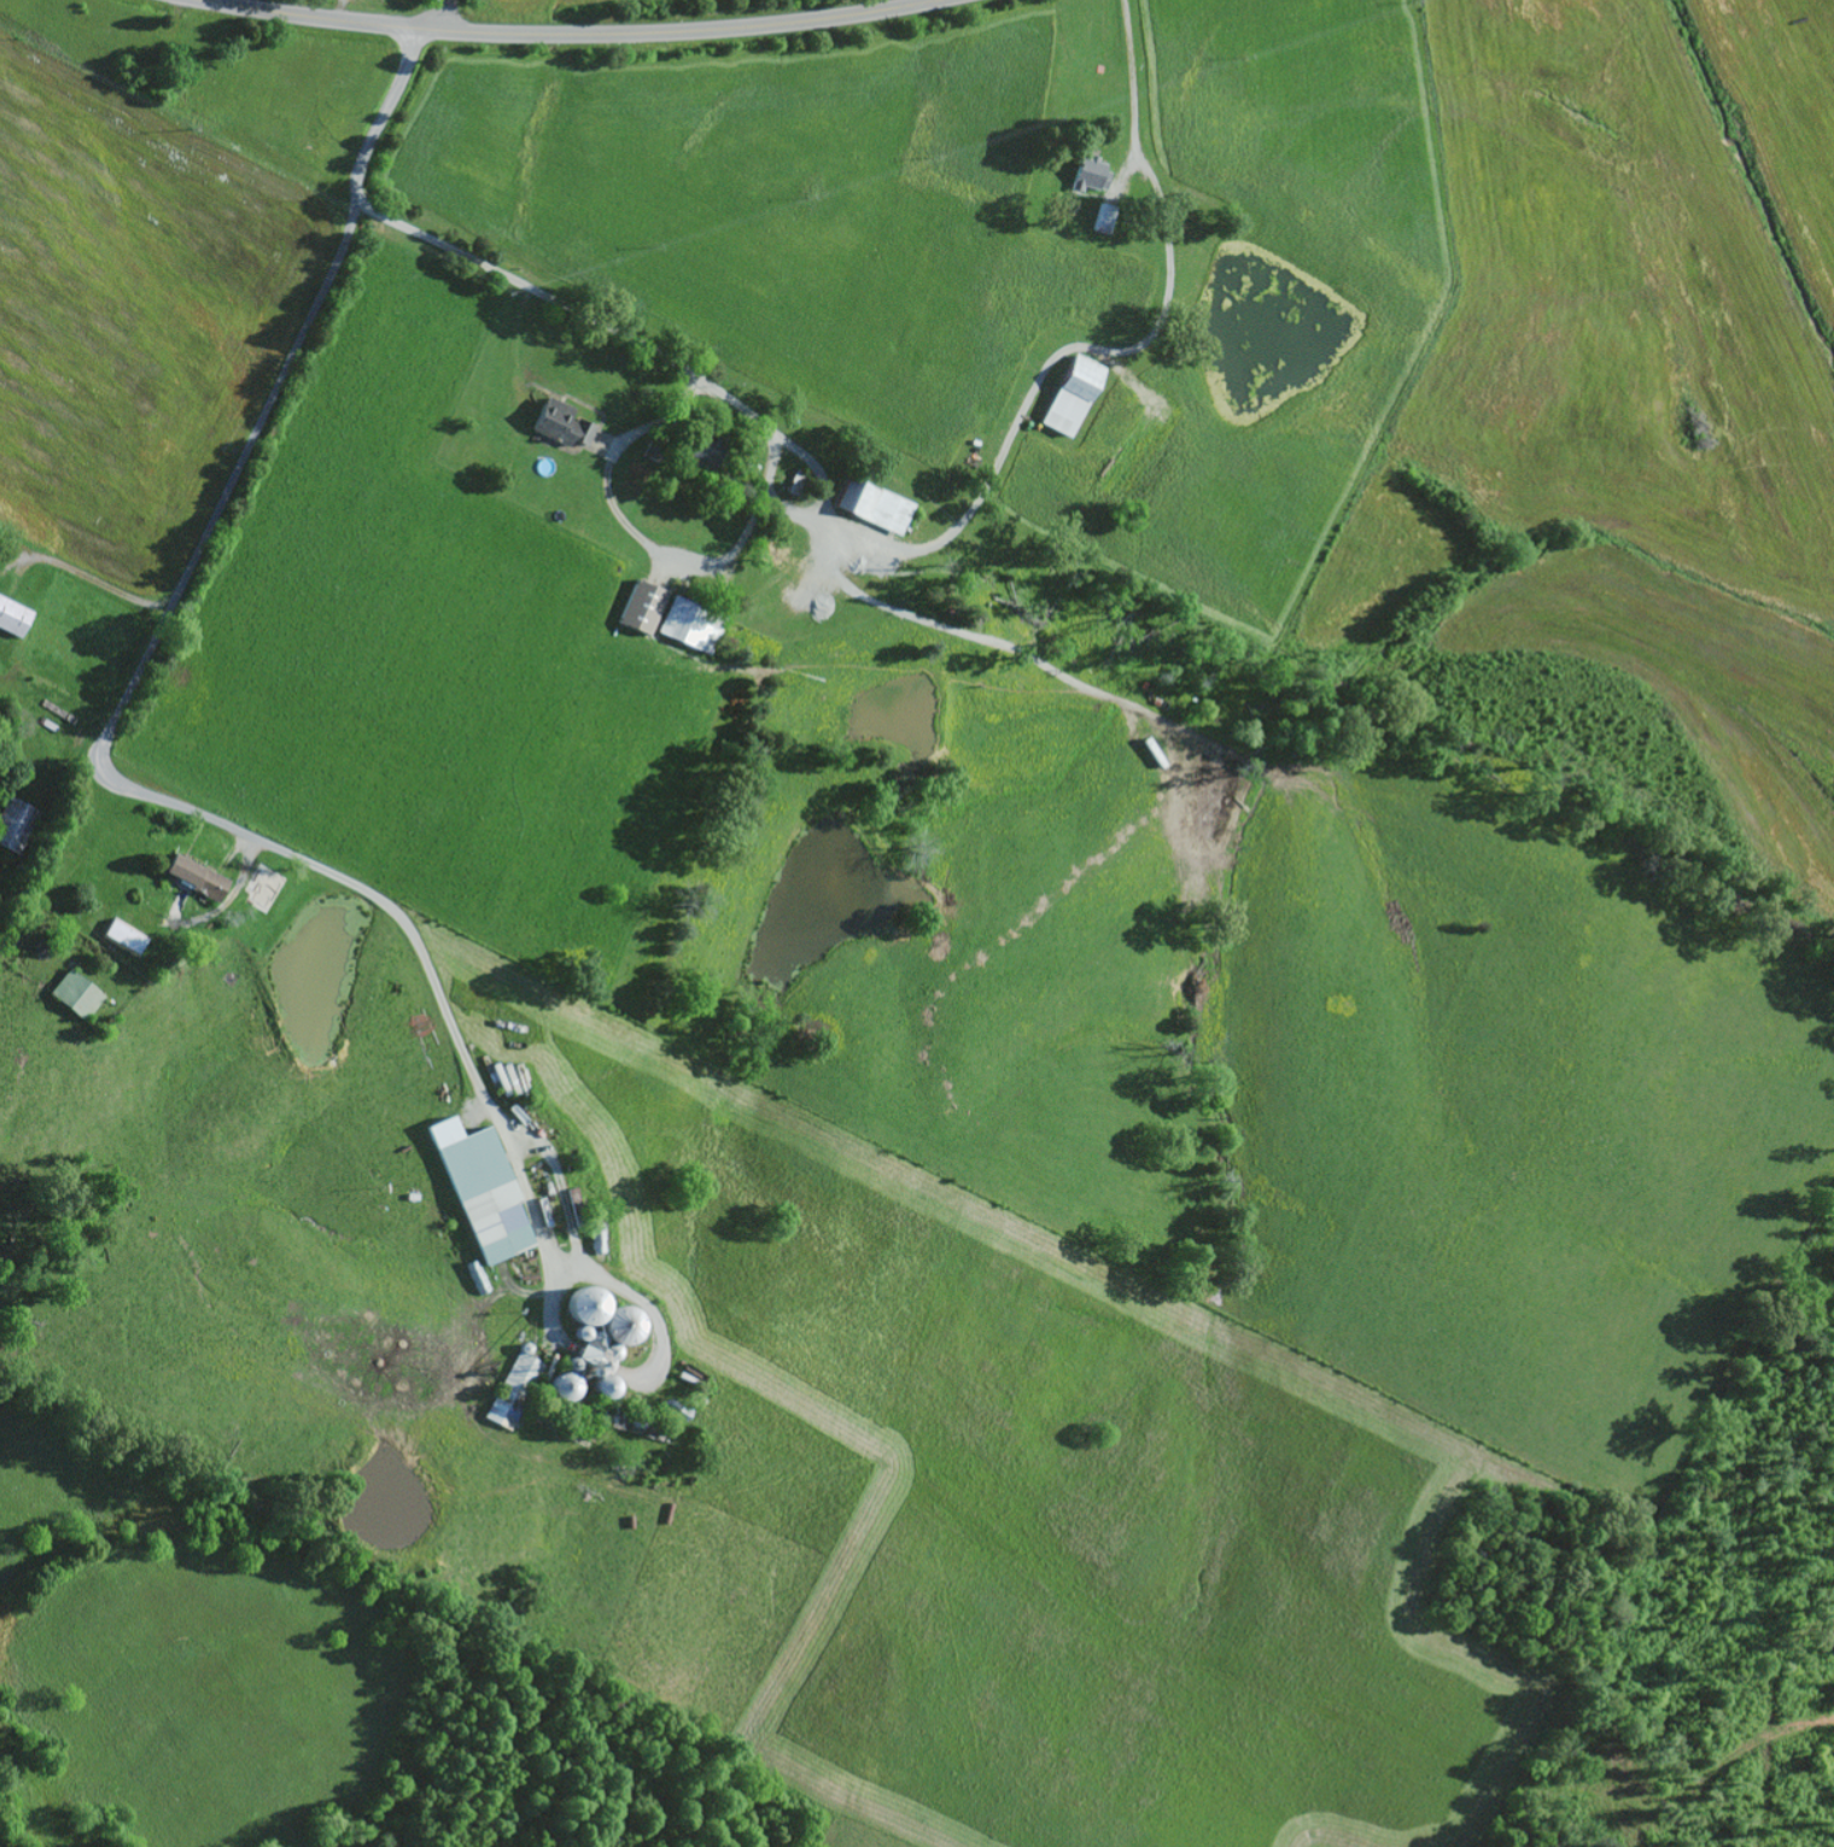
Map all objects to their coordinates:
road: (442, 12)
road: (571, 30)
road: (382, 111)
building: (1088, 170)
building: (1104, 215)
road: (527, 284)
building: (1080, 374)
building: (555, 417)
building: (703, 444)
building: (653, 445)
building: (748, 466)
building: (796, 479)
building: (874, 501)
road: (112, 586)
building: (641, 602)
building: (12, 614)
building: (690, 621)
road: (146, 791)
building: (14, 820)
building: (195, 872)
building: (269, 872)
building: (124, 933)
building: (76, 990)
building: (485, 1191)
silo: (586, 1303)
silo: (621, 1322)
silo: (582, 1331)
building: (591, 1342)
silo: (611, 1349)
silo: (572, 1361)
silo: (592, 1369)
silo: (562, 1384)
silo: (604, 1384)
building: (513, 1387)

